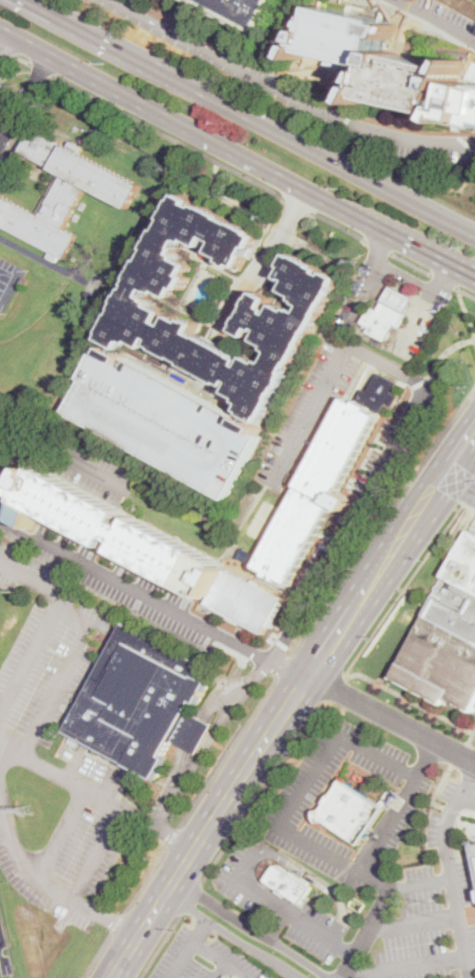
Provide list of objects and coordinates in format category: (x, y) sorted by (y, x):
parking lot: (156, 1)
road: (141, 4)
road: (137, 6)
building: (246, 12)
parking lot: (443, 17)
road: (435, 20)
road: (7, 44)
road: (7, 50)
road: (22, 59)
building: (382, 59)
road: (41, 69)
road: (294, 88)
road: (285, 94)
road: (26, 98)
building: (462, 105)
road: (250, 118)
road: (169, 135)
parking lot: (410, 147)
road: (236, 151)
building: (63, 194)
road: (298, 203)
building: (248, 224)
road: (340, 225)
road: (383, 241)
road: (379, 246)
building: (326, 253)
road: (264, 263)
road: (411, 263)
road: (447, 276)
park: (4, 277)
road: (444, 279)
building: (23, 280)
road: (368, 286)
parking lot: (367, 288)
road: (402, 291)
road: (440, 291)
road: (437, 292)
road: (465, 292)
building: (401, 299)
road: (396, 303)
building: (142, 307)
road: (467, 311)
building: (386, 319)
parking lot: (421, 321)
road: (470, 340)
road: (459, 343)
road: (450, 348)
road: (433, 368)
parking lot: (308, 415)
building: (167, 420)
parking garage: (167, 420)
parking lot: (393, 440)
road: (67, 457)
parking lot: (0, 464)
road: (395, 473)
building: (325, 481)
road: (460, 484)
road: (470, 494)
road: (357, 512)
road: (381, 520)
road: (467, 520)
building: (148, 548)
building: (248, 554)
parking lot: (45, 562)
road: (405, 589)
parking lot: (135, 590)
road: (154, 597)
building: (447, 637)
road: (83, 638)
road: (30, 658)
road: (283, 664)
parking lot: (44, 674)
road: (335, 688)
building: (147, 700)
road: (416, 702)
road: (288, 704)
road: (391, 717)
road: (474, 731)
road: (230, 750)
road: (459, 754)
parking lot: (310, 781)
road: (438, 789)
road: (261, 791)
road: (96, 795)
road: (467, 798)
road: (400, 805)
power tower: (29, 808)
road: (454, 809)
building: (351, 811)
road: (469, 811)
road: (279, 822)
parking lot: (391, 827)
parking lot: (56, 829)
road: (63, 835)
road: (174, 835)
building: (474, 845)
road: (469, 847)
road: (98, 855)
road: (451, 872)
road: (147, 879)
road: (39, 880)
road: (319, 881)
building: (289, 883)
road: (192, 899)
parking lot: (278, 902)
road: (282, 908)
road: (415, 921)
parking lot: (0, 922)
road: (118, 922)
road: (278, 925)
road: (251, 927)
parking lot: (425, 928)
road: (368, 932)
road: (233, 935)
road: (0, 942)
road: (161, 945)
road: (190, 948)
road: (96, 955)
parking lot: (204, 957)
road: (221, 959)
road: (407, 967)
road: (221, 970)
building: (227, 976)

